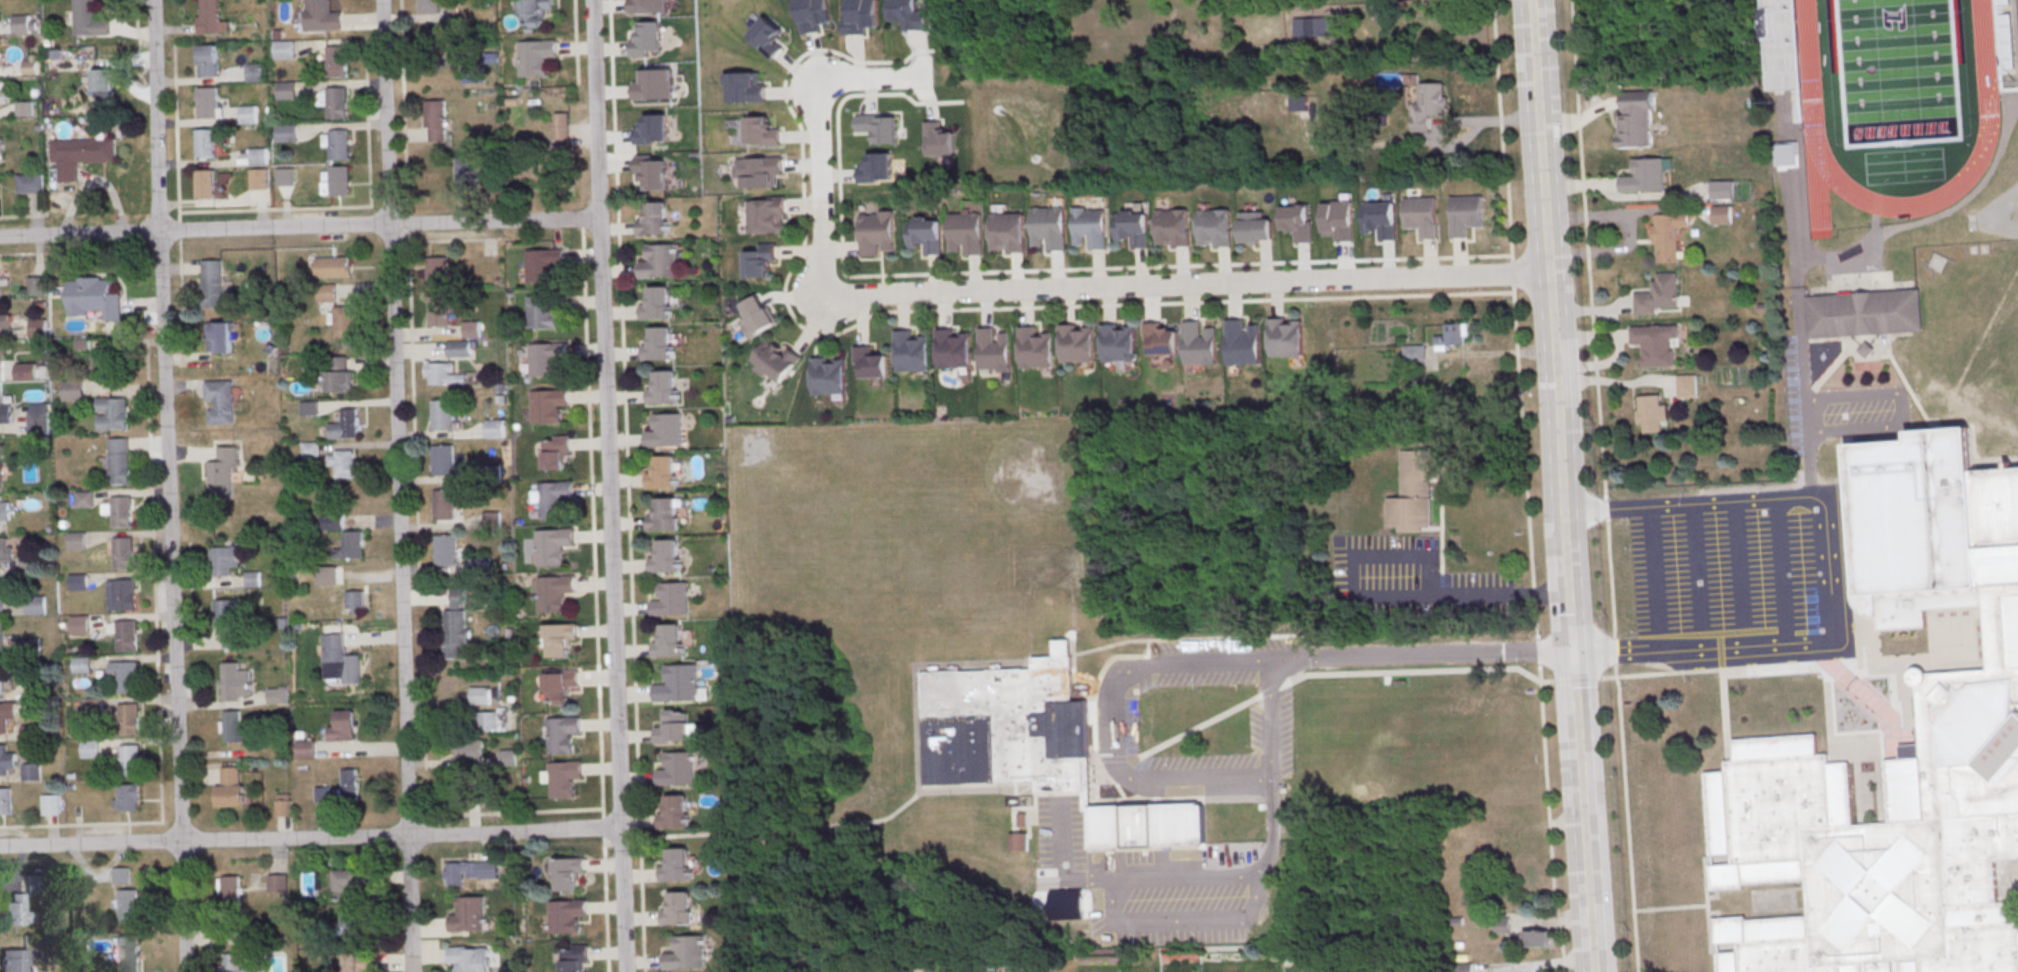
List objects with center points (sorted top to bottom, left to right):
building: (428, 6)
building: (648, 6)
building: (535, 14)
building: (813, 16)
building: (908, 17)
building: (318, 18)
building: (861, 18)
building: (210, 19)
building: (89, 21)
building: (22, 27)
building: (1306, 27)
stadium: (2003, 35)
building: (647, 40)
building: (768, 41)
building: (1779, 45)
stadium: (1781, 45)
building: (283, 52)
road: (1535, 56)
building: (535, 59)
building: (209, 64)
building: (337, 64)
building: (31, 65)
park: (1896, 70)
park: (1897, 70)
building: (256, 75)
road: (877, 80)
building: (104, 86)
building: (744, 88)
building: (288, 93)
building: (4, 96)
building: (677, 102)
building: (209, 106)
building: (338, 106)
building: (1298, 106)
building: (25, 108)
building: (1428, 109)
building: (250, 116)
building: (1634, 119)
track: (1988, 120)
building: (436, 121)
building: (560, 125)
building: (761, 132)
building: (879, 132)
building: (287, 136)
road: (1414, 141)
building: (940, 144)
building: (208, 147)
building: (341, 148)
building: (1, 149)
building: (561, 151)
building: (1786, 155)
building: (80, 158)
building: (260, 159)
building: (466, 168)
building: (876, 168)
building: (651, 171)
building: (761, 171)
building: (1644, 176)
building: (286, 179)
building: (261, 181)
building: (341, 184)
building: (27, 187)
building: (208, 188)
road: (821, 188)
building: (1721, 190)
building: (766, 215)
building: (1720, 215)
road: (1936, 216)
building: (1467, 218)
building: (1422, 219)
building: (654, 220)
building: (1380, 222)
building: (1339, 224)
road: (299, 227)
building: (1298, 227)
building: (1048, 231)
building: (1090, 231)
building: (1132, 232)
building: (1173, 232)
building: (1215, 232)
building: (1255, 233)
building: (877, 235)
building: (1667, 235)
building: (1008, 236)
building: (966, 237)
building: (927, 239)
building: (760, 260)
building: (660, 261)
building: (542, 265)
building: (333, 266)
building: (437, 271)
road: (1026, 272)
building: (212, 283)
road: (1188, 285)
building: (35, 286)
road: (408, 288)
building: (327, 292)
building: (1657, 295)
building: (91, 296)
building: (657, 304)
building: (438, 310)
road: (937, 310)
road: (1551, 310)
building: (544, 311)
building: (1863, 313)
building: (756, 315)
building: (344, 321)
building: (5, 322)
building: (36, 328)
building: (471, 329)
road: (1801, 335)
building: (219, 336)
building: (1453, 336)
building: (1161, 337)
building: (1286, 337)
building: (1242, 341)
building: (1076, 342)
building: (1118, 342)
building: (659, 343)
building: (1199, 343)
building: (1655, 343)
building: (1035, 347)
building: (458, 348)
building: (953, 348)
building: (993, 349)
building: (1866, 349)
building: (911, 350)
building: (1414, 352)
building: (0, 358)
building: (546, 358)
building: (110, 360)
building: (775, 360)
building: (871, 362)
building: (25, 371)
building: (338, 374)
building: (446, 374)
building: (828, 375)
building: (1685, 386)
building: (663, 388)
building: (73, 390)
building: (219, 401)
building: (547, 405)
road: (1901, 407)
parking lot: (1858, 409)
building: (112, 413)
building: (1651, 413)
building: (5, 414)
building: (442, 415)
building: (37, 424)
building: (344, 424)
building: (495, 428)
building: (666, 430)
building: (556, 452)
building: (119, 460)
building: (442, 460)
building: (344, 464)
building: (222, 473)
building: (663, 473)
building: (0, 474)
road: (397, 485)
road: (608, 485)
road: (626, 485)
road: (167, 486)
road: (1525, 486)
road: (1603, 486)
building: (1415, 493)
building: (553, 498)
building: (84, 500)
building: (444, 505)
building: (4, 511)
building: (121, 512)
building: (663, 515)
building: (332, 521)
building: (76, 540)
building: (351, 545)
building: (550, 547)
building: (445, 550)
building: (5, 551)
building: (123, 553)
building: (666, 556)
building: (222, 561)
road: (1739, 562)
building: (27, 564)
road: (1695, 565)
road: (1827, 565)
road: (1779, 568)
road: (1652, 569)
parking lot: (1728, 569)
building: (326, 575)
road: (1566, 579)
building: (76, 583)
building: (553, 592)
building: (4, 594)
building: (121, 595)
road: (594, 595)
road: (1376, 599)
building: (671, 600)
building: (355, 601)
building: (35, 605)
building: (224, 614)
building: (79, 624)
building: (454, 627)
building: (127, 636)
building: (1, 637)
building: (559, 639)
building: (669, 642)
building: (31, 647)
road: (1421, 654)
building: (339, 661)
building: (81, 666)
road: (1675, 671)
building: (1, 677)
building: (128, 677)
building: (678, 684)
building: (232, 687)
building: (558, 687)
building: (37, 688)
building: (277, 695)
building: (480, 695)
building: (94, 706)
building: (1968, 709)
building: (6, 714)
road: (1107, 718)
road: (1271, 719)
building: (128, 720)
building: (490, 720)
building: (232, 726)
building: (342, 726)
building: (673, 728)
building: (28, 733)
building: (561, 735)
park: (1412, 735)
building: (1035, 745)
building: (305, 748)
building: (90, 749)
building: (470, 749)
building: (508, 757)
building: (6, 761)
building: (130, 761)
building: (676, 768)
building: (30, 773)
building: (563, 779)
building: (349, 782)
building: (229, 786)
building: (128, 797)
building: (5, 802)
building: (283, 804)
building: (50, 805)
road: (1581, 810)
building: (675, 813)
building: (1023, 819)
road: (843, 821)
road: (310, 838)
building: (1019, 841)
building: (676, 866)
building: (465, 870)
building: (567, 873)
building: (120, 876)
road: (1176, 879)
building: (277, 882)
building: (348, 884)
building: (34, 885)
building: (231, 888)
building: (128, 905)
building: (16, 910)
building: (678, 910)
building: (468, 915)
building: (566, 915)
building: (354, 923)
building: (1501, 926)
building: (1536, 939)
building: (129, 953)
building: (686, 954)
building: (470, 958)
building: (573, 959)
building: (14, 960)
building: (359, 962)
building: (231, 963)
building: (1463, 968)

